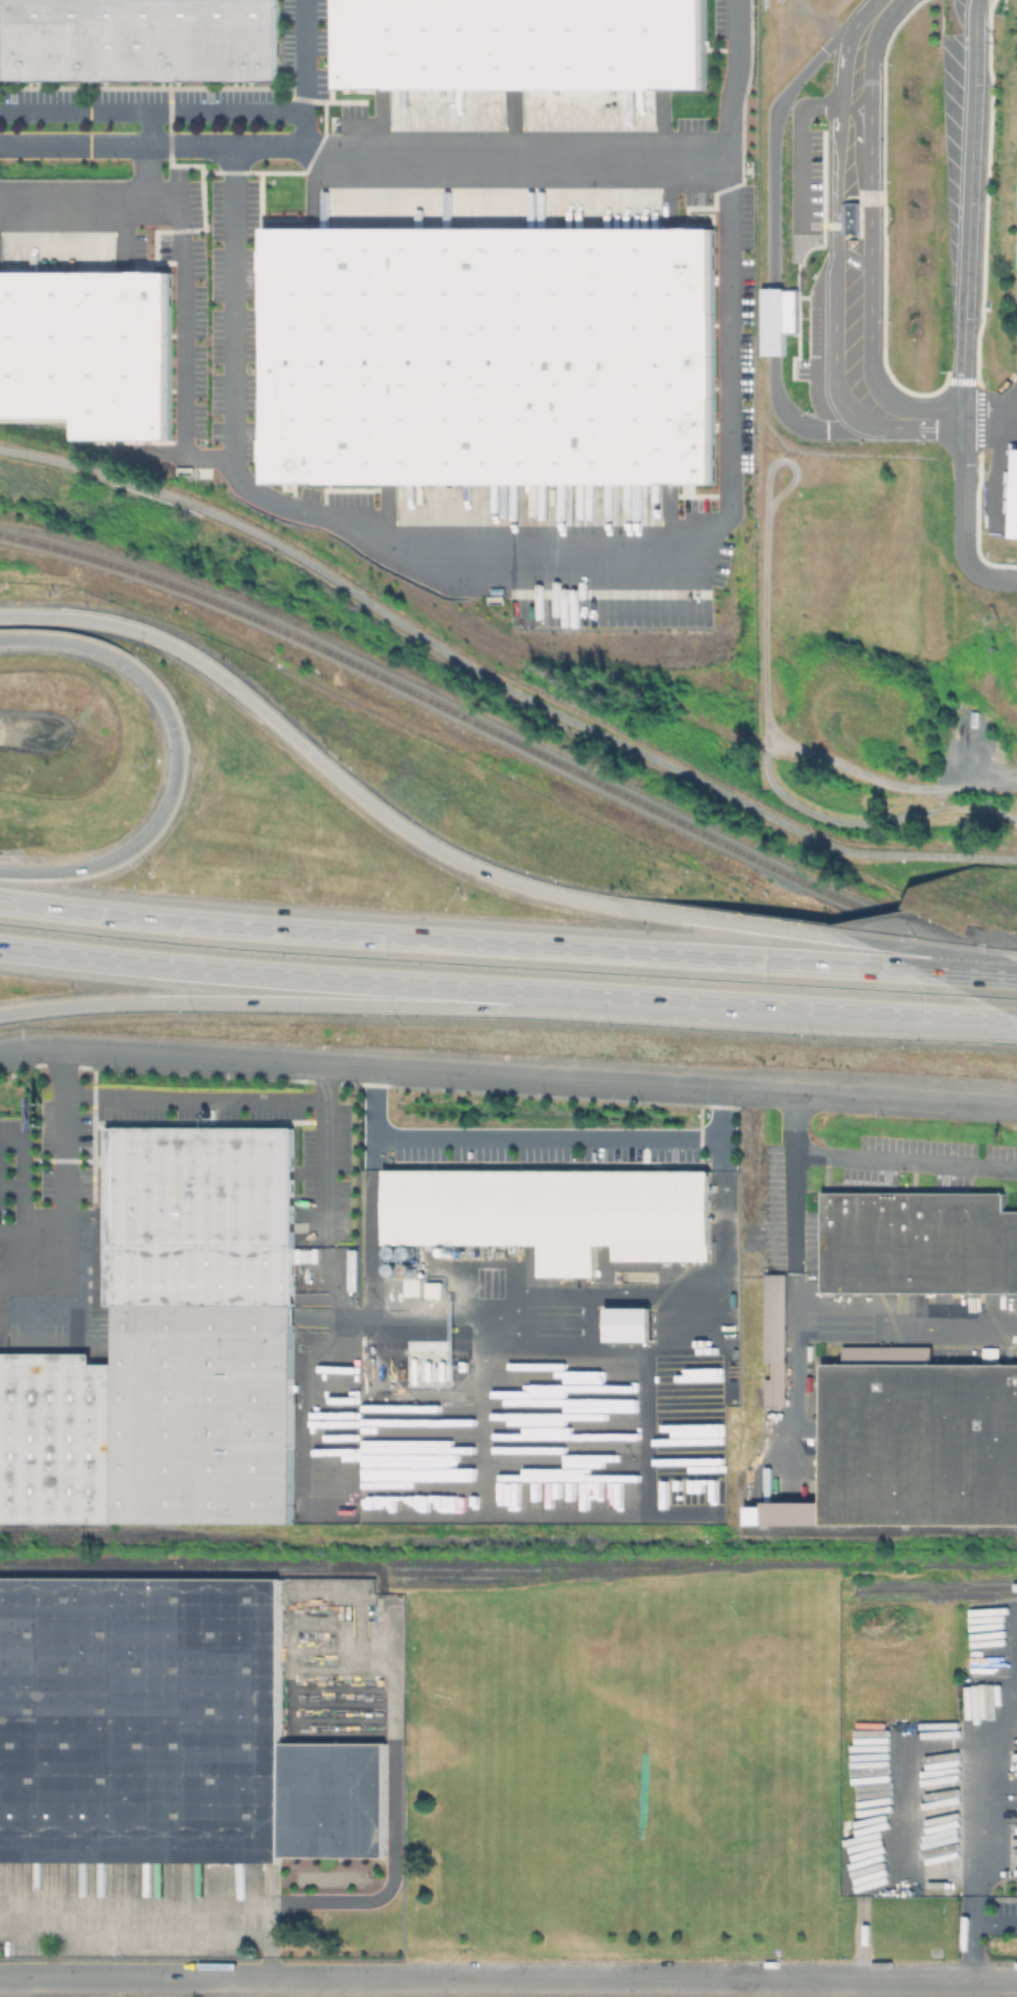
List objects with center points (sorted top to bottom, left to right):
building: (141, 39)
building: (521, 44)
road: (153, 108)
road: (776, 128)
road: (803, 136)
road: (226, 142)
road: (600, 159)
road: (122, 210)
building: (855, 218)
road: (871, 236)
road: (970, 309)
building: (782, 318)
road: (773, 321)
road: (188, 339)
building: (87, 352)
building: (490, 357)
road: (991, 411)
road: (812, 427)
building: (1012, 495)
road: (495, 552)
road: (182, 654)
road: (499, 684)
railway: (448, 707)
road: (180, 757)
road: (657, 912)
road: (508, 943)
road: (507, 988)
road: (353, 1003)
road: (371, 1068)
road: (198, 1099)
road: (880, 1100)
road: (540, 1137)
road: (328, 1156)
road: (908, 1162)
road: (27, 1175)
building: (550, 1208)
road: (68, 1218)
road: (34, 1234)
building: (918, 1243)
road: (523, 1298)
road: (799, 1316)
building: (628, 1324)
building: (774, 1338)
building: (171, 1346)
building: (919, 1445)
building: (784, 1513)
railway: (877, 1529)
railway: (137, 1541)
railway: (508, 1560)
railway: (370, 1571)
railway: (491, 1583)
railway: (934, 1588)
building: (141, 1721)
park: (621, 1765)
road: (980, 1793)
road: (142, 1919)
road: (972, 1931)
road: (264, 1959)
road: (508, 1979)

